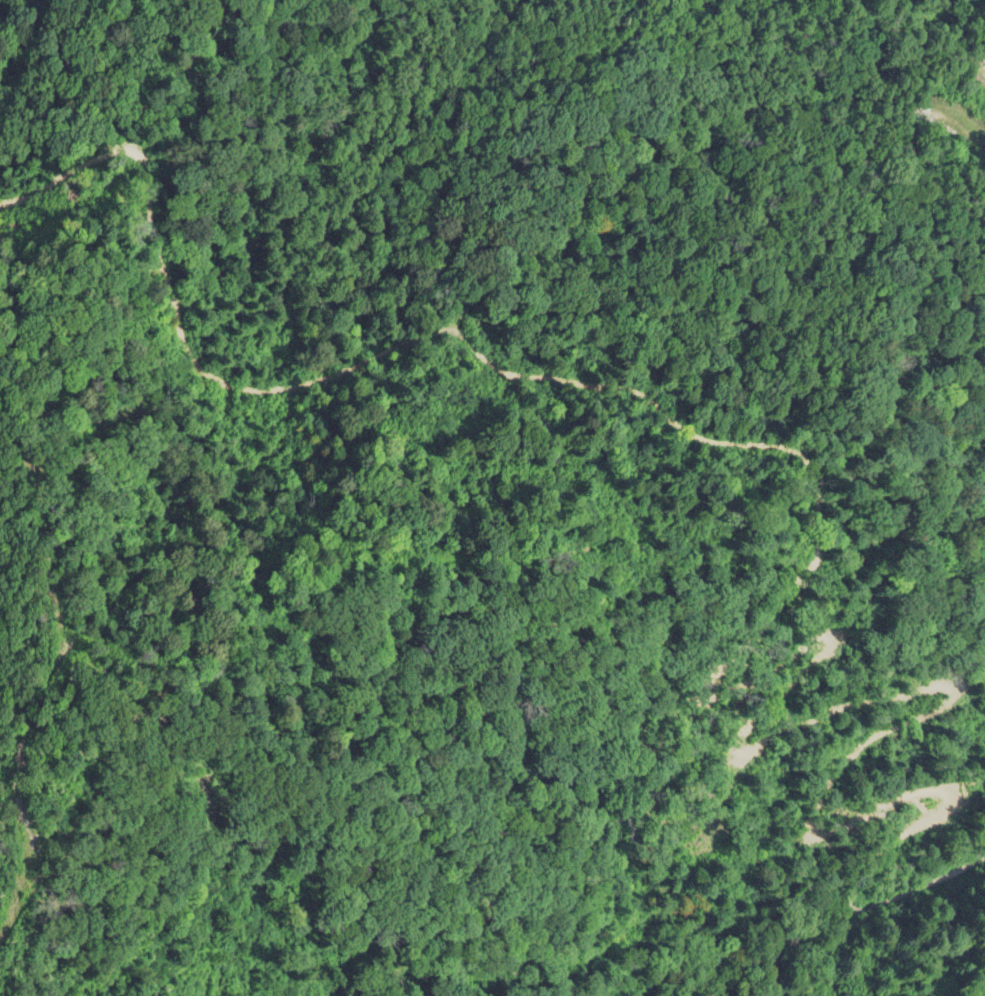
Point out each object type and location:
road: (447, 618)

